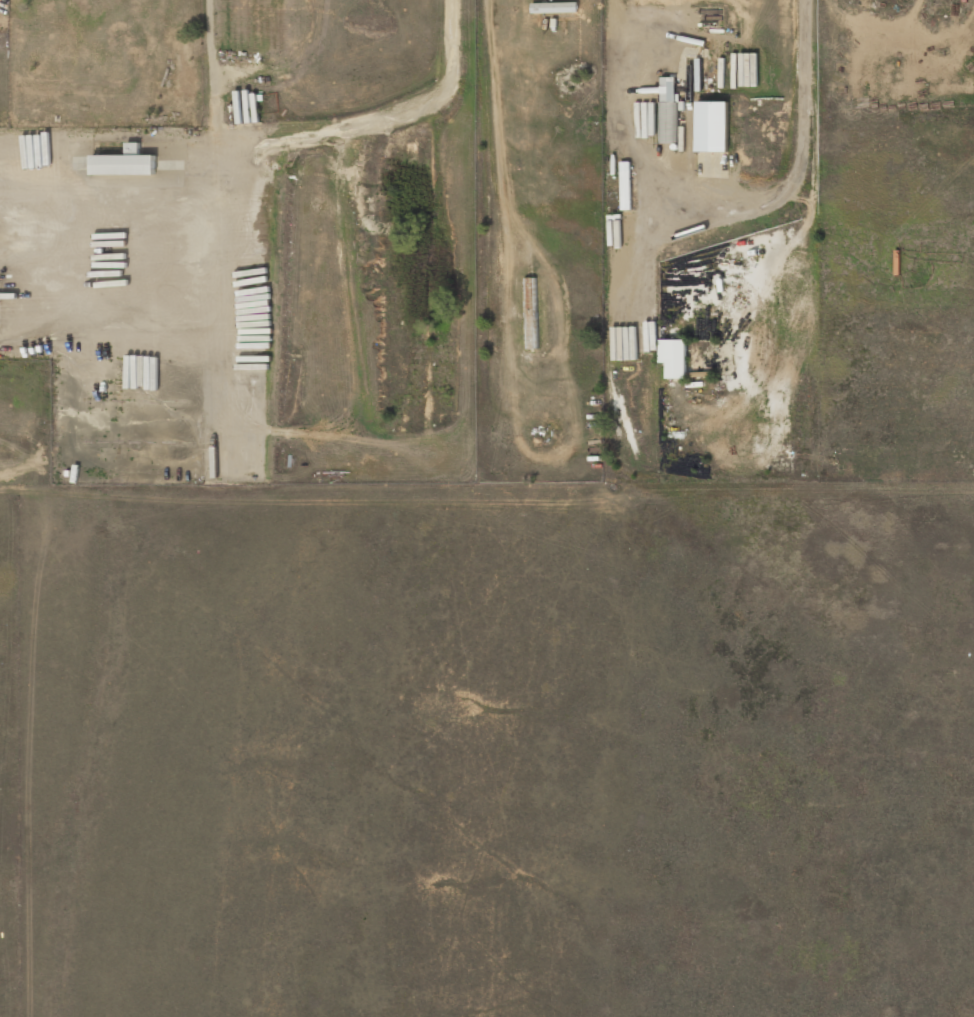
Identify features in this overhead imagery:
road: (806, 89)
building: (668, 109)
building: (712, 126)
building: (125, 162)
building: (625, 185)
building: (532, 303)
building: (673, 357)

